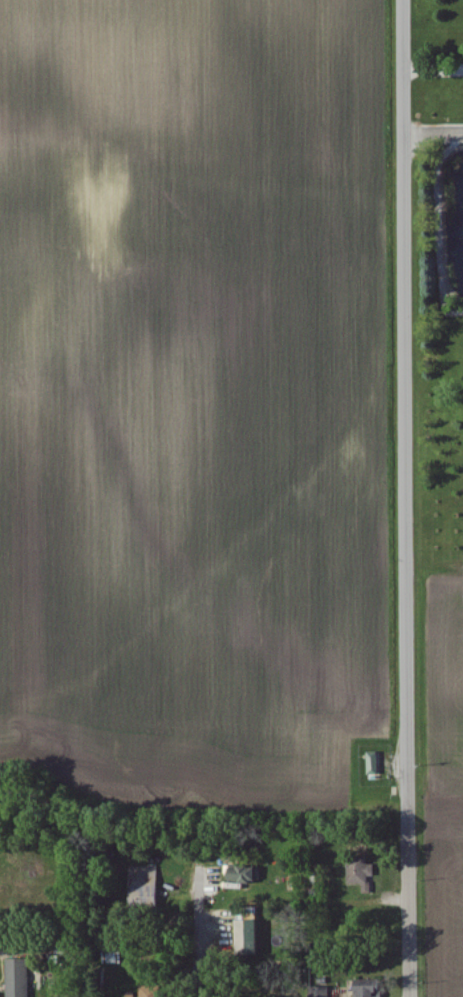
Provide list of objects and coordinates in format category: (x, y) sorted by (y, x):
road: (431, 131)
road: (401, 405)
building: (359, 873)
road: (404, 904)
building: (253, 929)
road: (195, 933)
building: (19, 978)
building: (373, 989)

